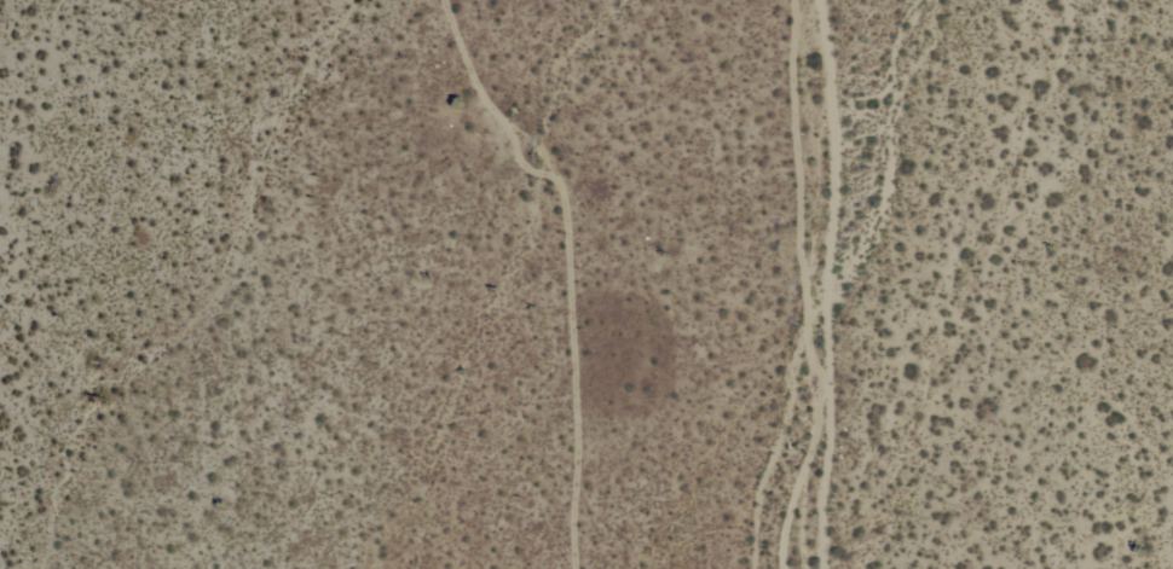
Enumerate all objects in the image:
road: (819, 284)

